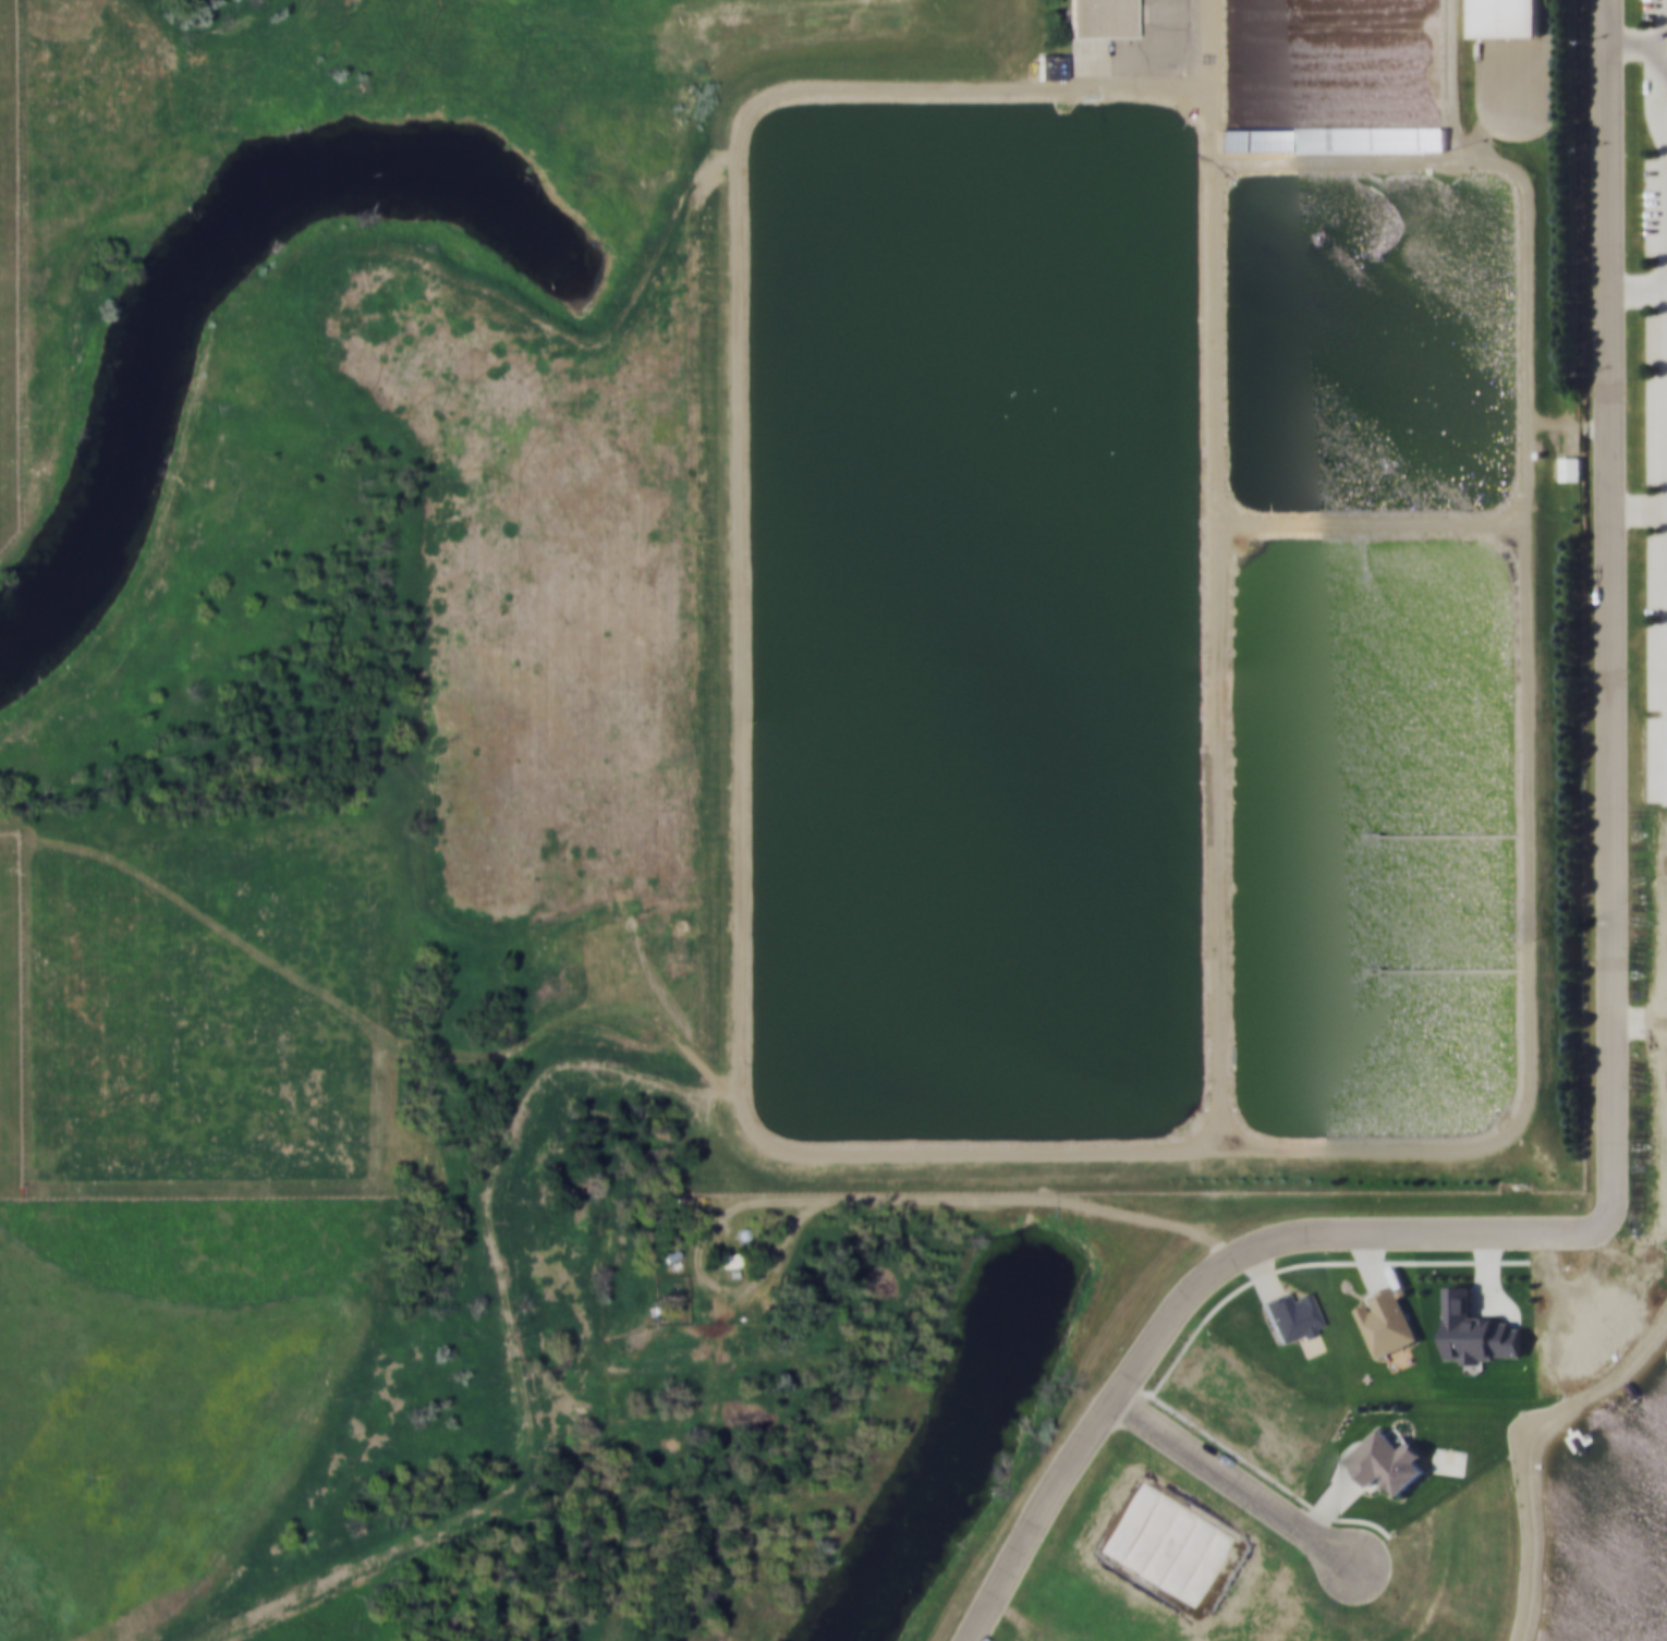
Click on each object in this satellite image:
building: (1100, 17)
building: (1506, 17)
building: (1048, 66)
building: (1331, 138)
building: (1570, 467)
road: (1610, 1023)
road: (1008, 1201)
building: (743, 1232)
building: (1290, 1316)
building: (1386, 1460)
road: (1231, 1478)

